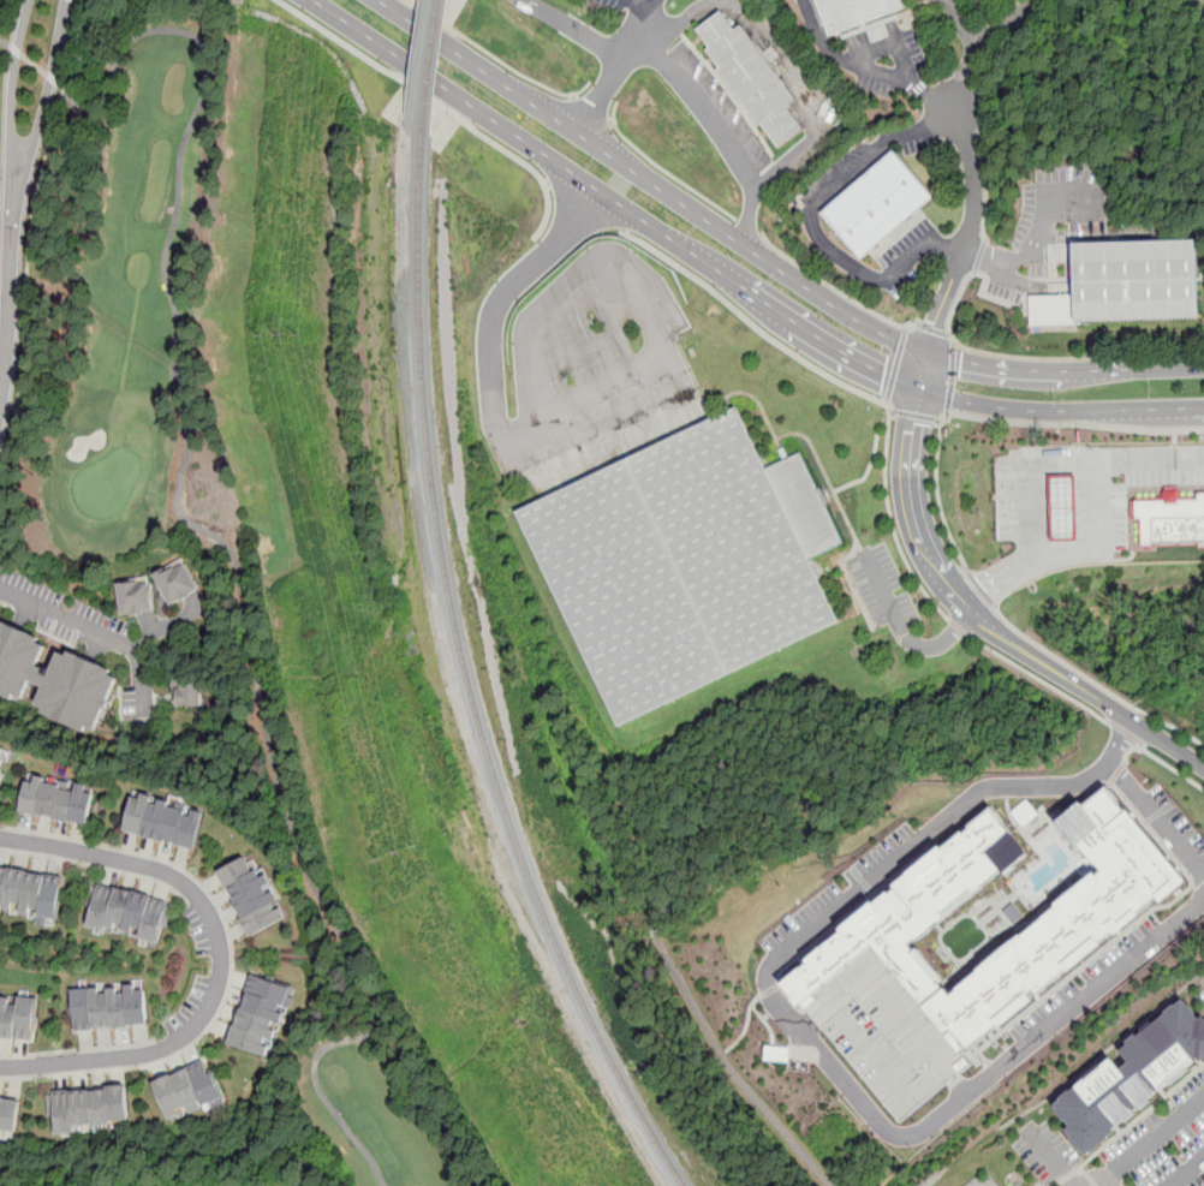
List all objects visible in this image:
road: (643, 6)
building: (863, 12)
road: (646, 17)
road: (680, 20)
road: (1012, 22)
road: (818, 37)
road: (73, 42)
road: (5, 43)
road: (14, 50)
road: (973, 54)
road: (495, 58)
road: (615, 58)
road: (905, 61)
road: (32, 64)
railway: (430, 65)
road: (12, 76)
road: (49, 78)
road: (50, 78)
building: (751, 82)
road: (928, 94)
road: (572, 96)
road: (809, 100)
road: (437, 103)
road: (590, 111)
road: (709, 115)
road: (610, 121)
road: (983, 162)
road: (662, 169)
road: (646, 180)
road: (546, 184)
power tower: (297, 196)
road: (612, 198)
road: (584, 205)
building: (877, 209)
road: (812, 221)
road: (747, 227)
road: (962, 250)
road: (978, 255)
road: (1026, 255)
road: (8, 281)
road: (26, 281)
road: (835, 288)
building: (1127, 288)
road: (496, 309)
traffic signals: (934, 323)
road: (906, 328)
road: (932, 329)
power tower: (279, 332)
road: (948, 334)
road: (954, 342)
road: (1041, 357)
traffic signals: (961, 360)
road: (952, 362)
road: (896, 364)
road: (1062, 370)
traffic signals: (884, 374)
road: (952, 383)
road: (845, 385)
road: (949, 399)
road: (886, 400)
road: (1059, 410)
road: (892, 412)
road: (948, 413)
road: (916, 415)
road: (995, 419)
road: (940, 421)
traffic signals: (911, 423)
road: (1175, 439)
road: (870, 464)
road: (1075, 467)
building: (1062, 507)
park: (202, 514)
building: (1169, 522)
road: (1099, 542)
road: (233, 556)
building: (691, 567)
road: (997, 577)
building: (177, 582)
road: (981, 586)
road: (881, 590)
building: (136, 595)
road: (987, 622)
road: (958, 627)
road: (97, 631)
road: (937, 642)
building: (54, 678)
road: (1039, 678)
railway: (466, 680)
road: (1095, 680)
building: (190, 695)
road: (1127, 734)
building: (2, 757)
road: (1170, 767)
building: (58, 800)
road: (1140, 801)
building: (163, 821)
road: (916, 842)
power tower: (397, 850)
building: (31, 893)
building: (251, 895)
building: (126, 913)
building: (1085, 922)
road: (217, 959)
building: (109, 1008)
building: (258, 1017)
building: (17, 1018)
road: (746, 1024)
building: (887, 1032)
parking garage: (887, 1032)
road: (732, 1068)
building: (1134, 1074)
road: (976, 1080)
building: (189, 1092)
building: (90, 1108)
building: (8, 1114)
road: (1151, 1143)
road: (1053, 1157)
road: (1187, 1172)
road: (1095, 1180)

